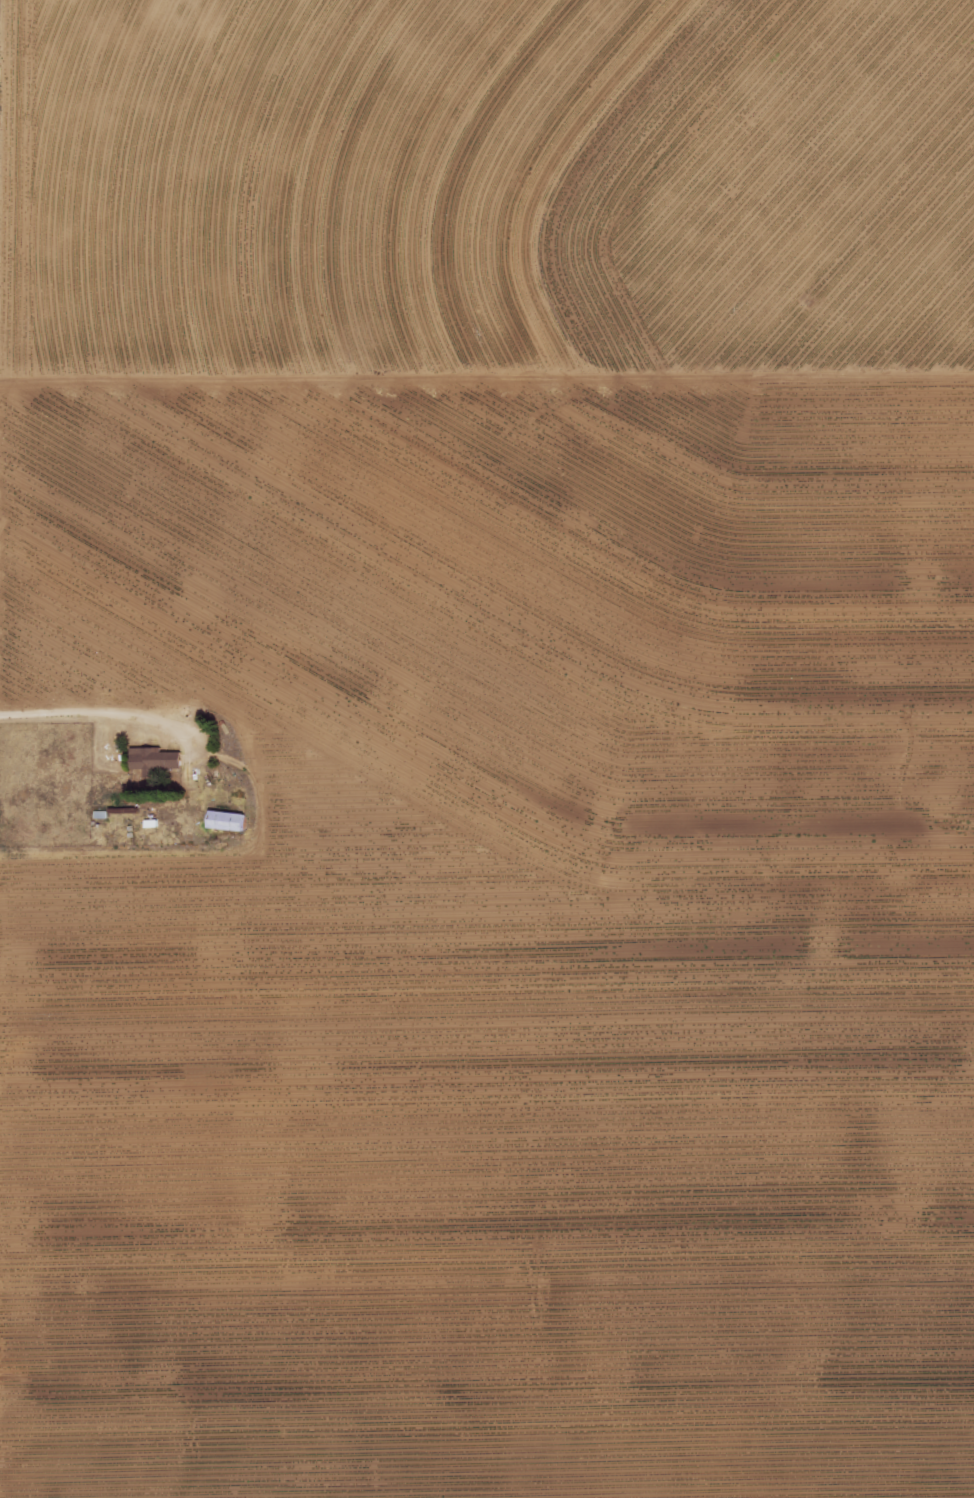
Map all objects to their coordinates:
road: (487, 378)
road: (98, 717)
building: (222, 820)

